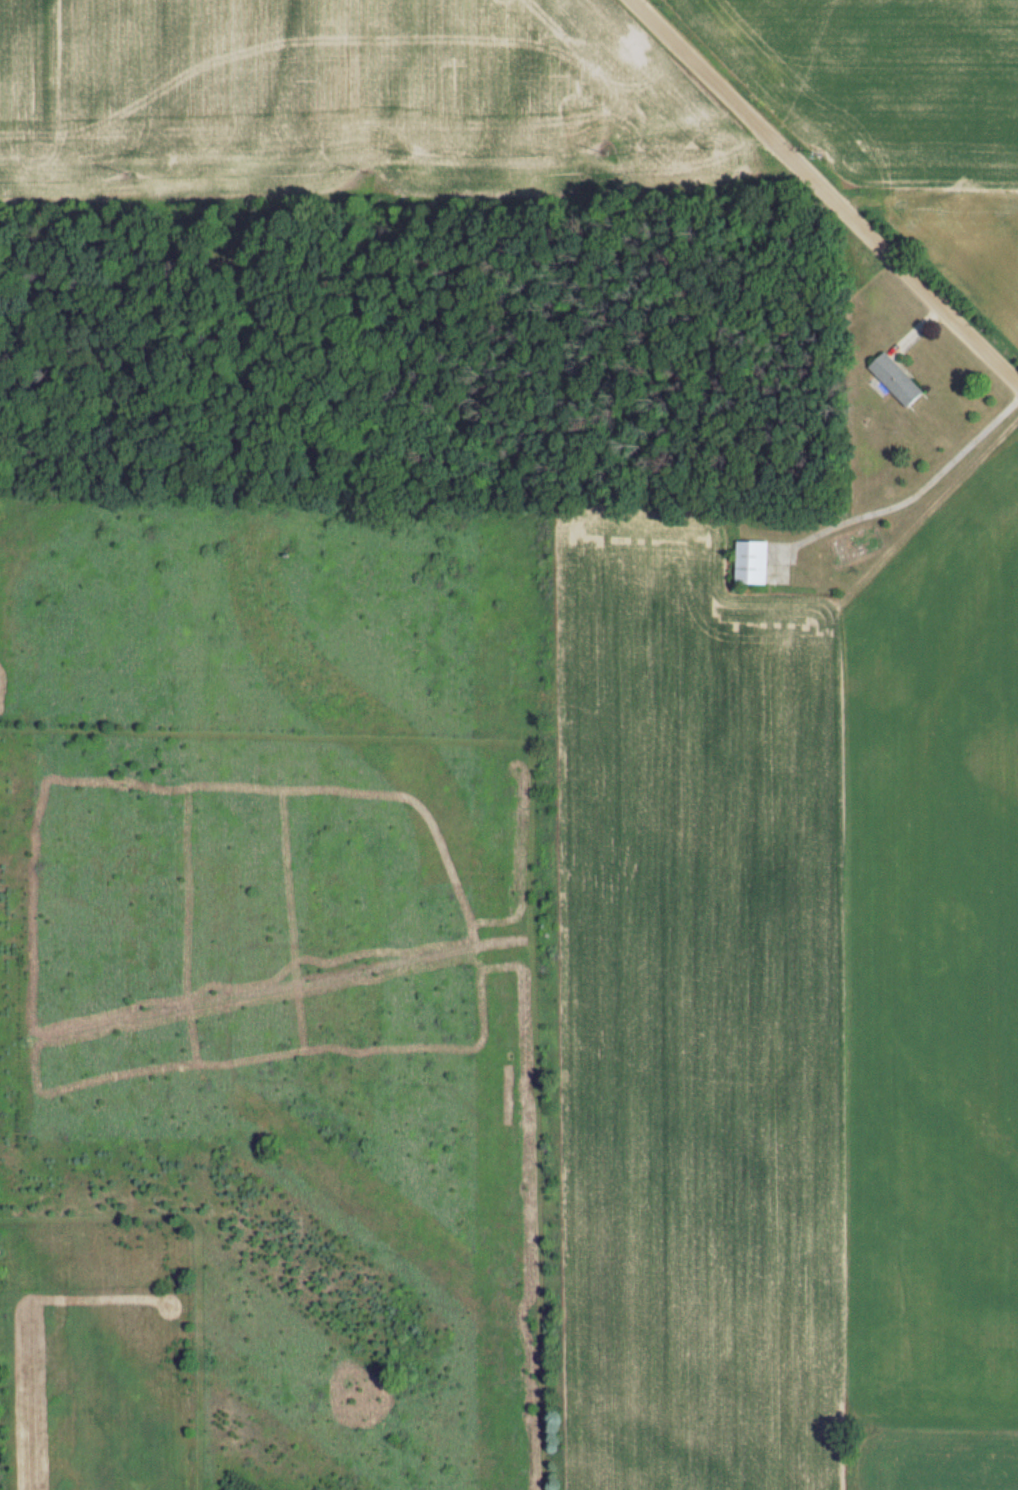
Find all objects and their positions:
road: (828, 192)
building: (893, 380)
road: (923, 495)
building: (749, 563)

